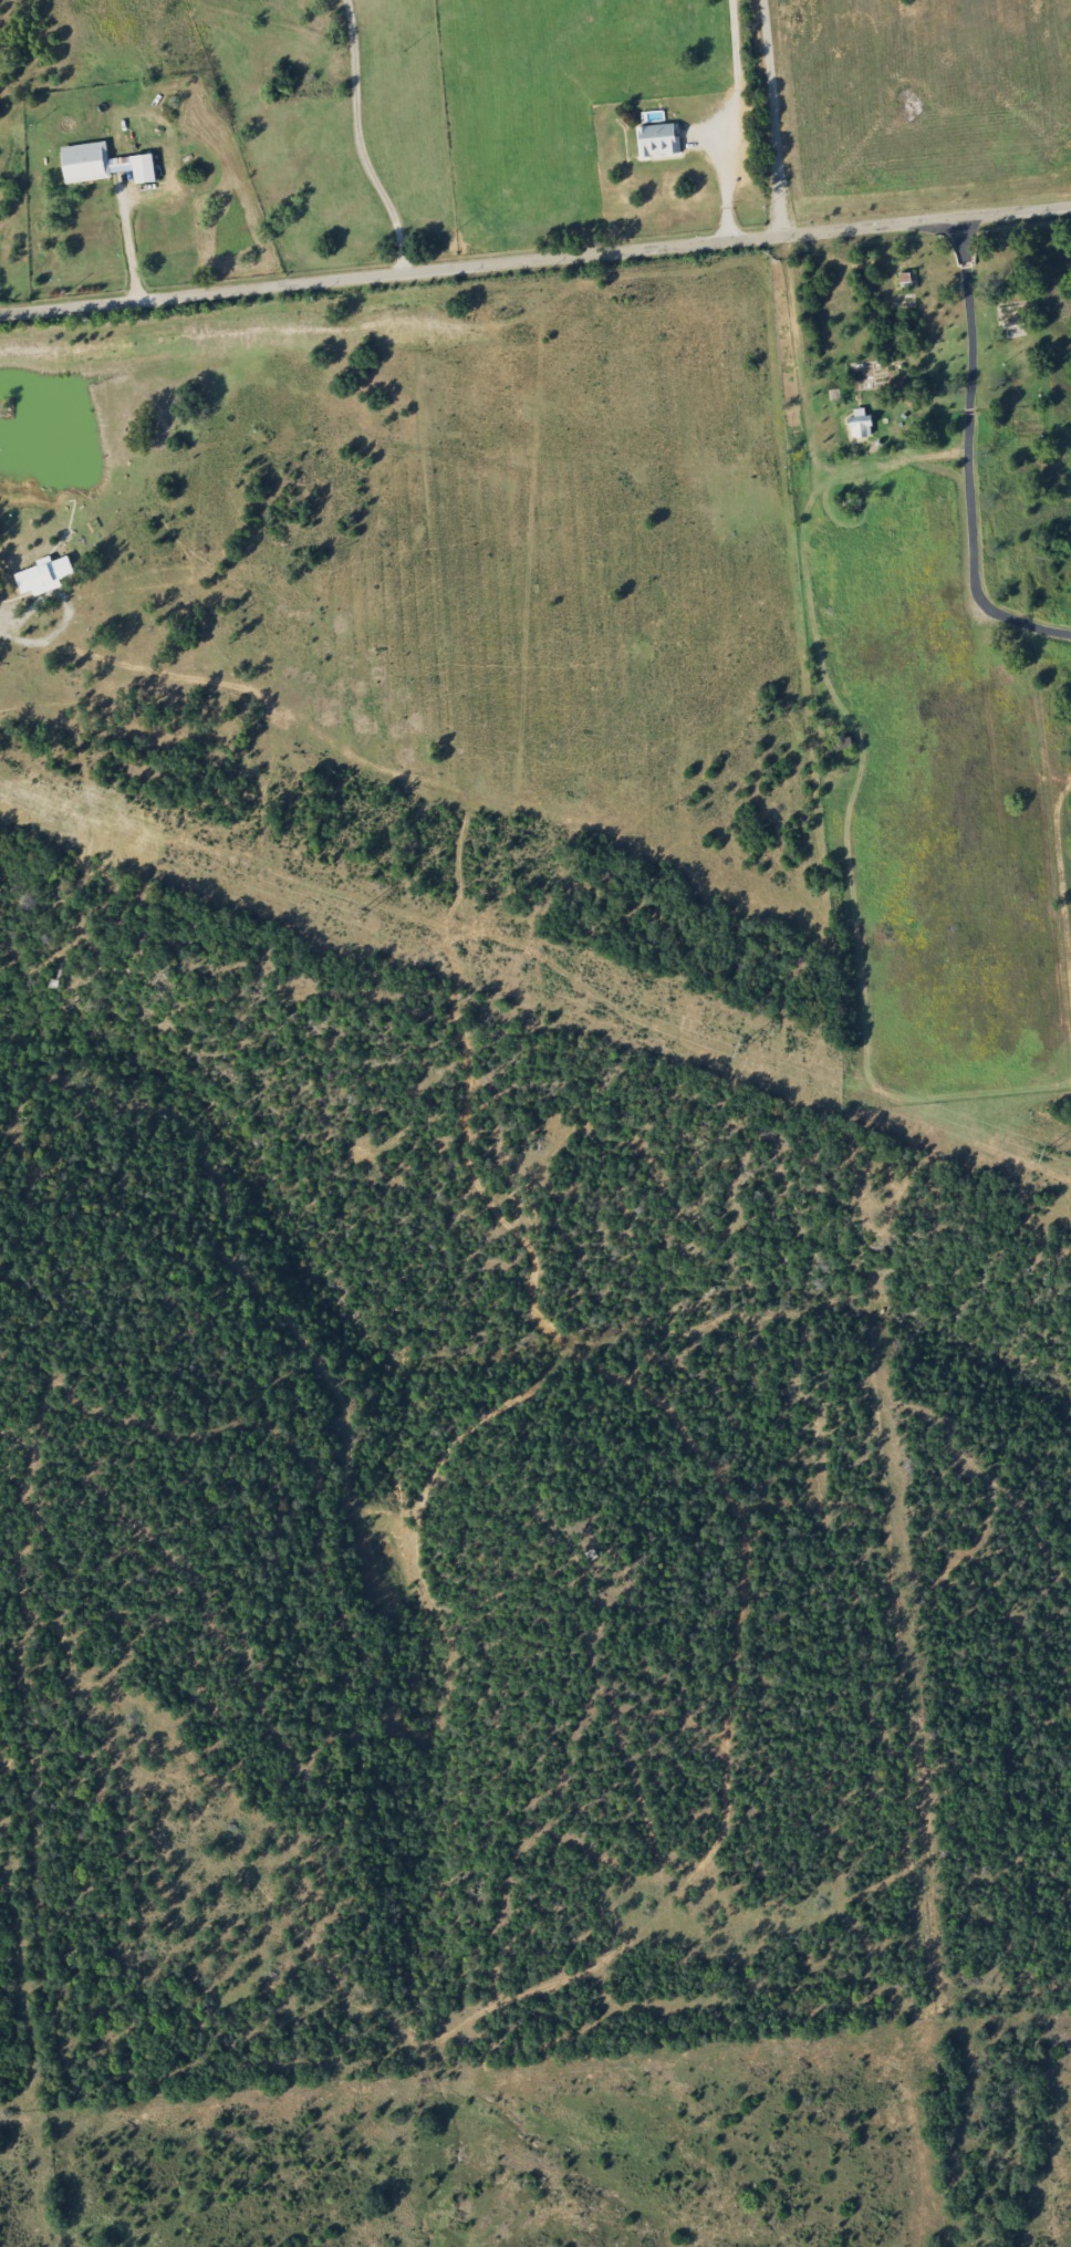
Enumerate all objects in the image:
road: (768, 117)
building: (655, 139)
building: (97, 164)
road: (126, 241)
road: (534, 259)
road: (965, 301)
building: (1009, 314)
building: (856, 427)

